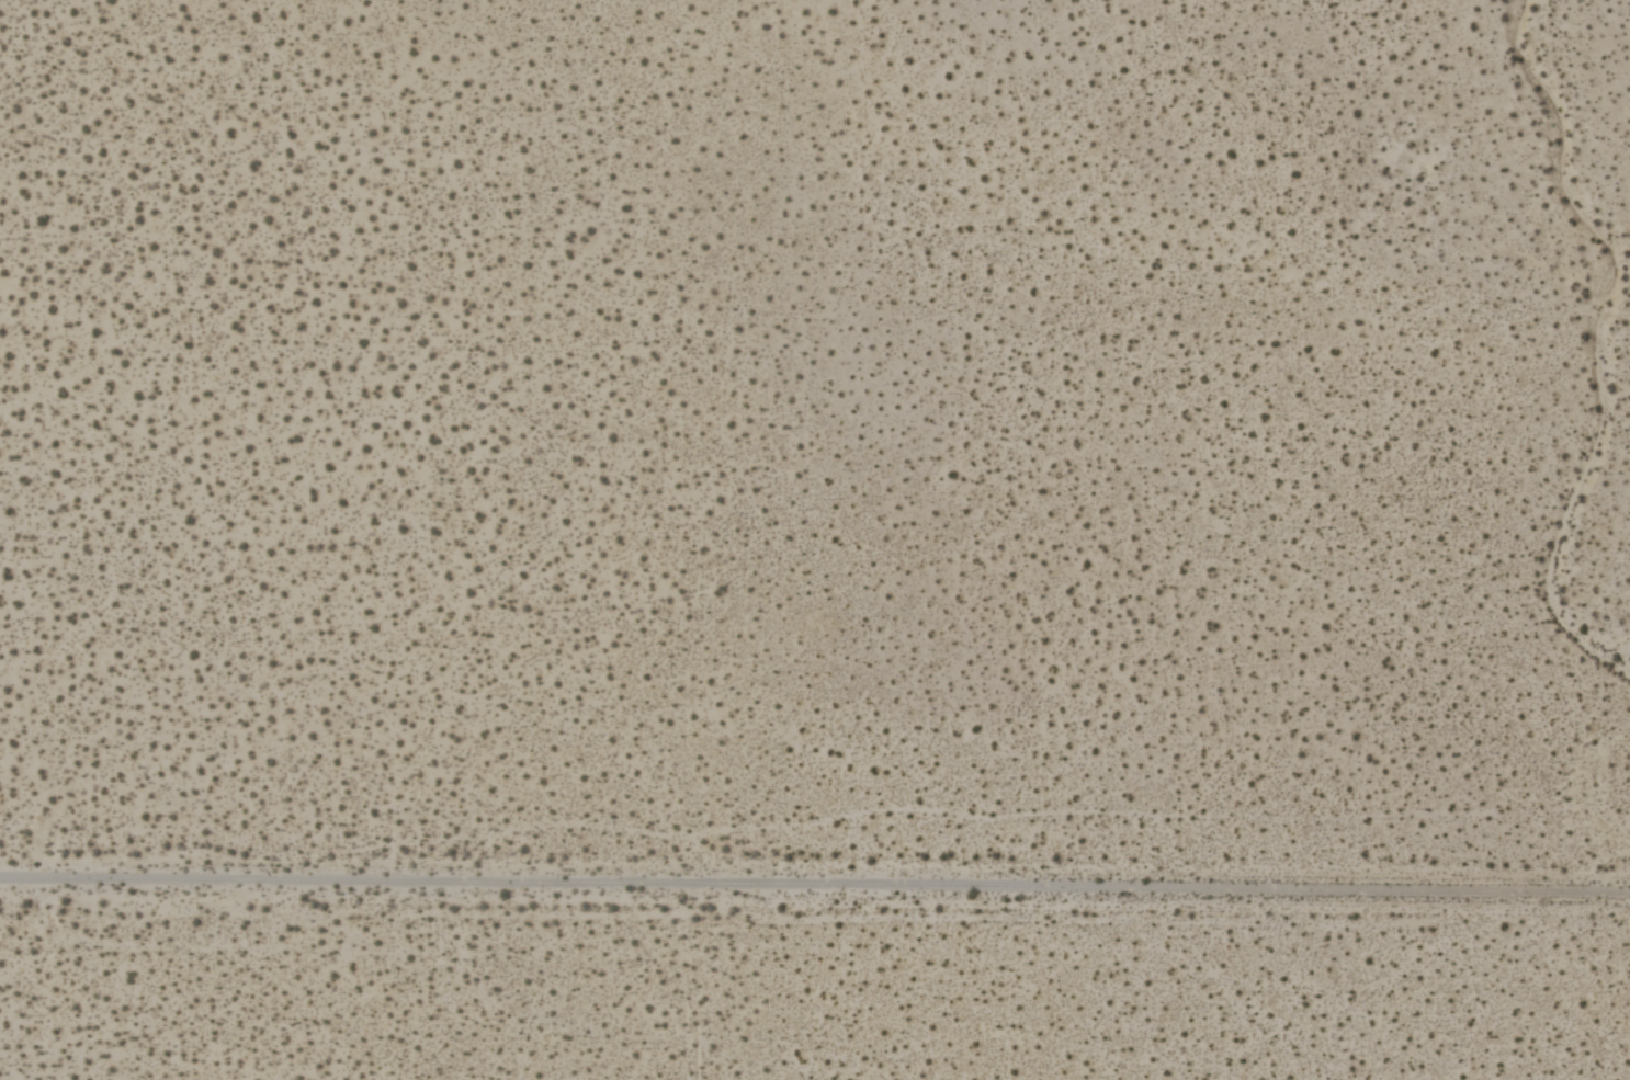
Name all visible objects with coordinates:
road: (815, 889)

